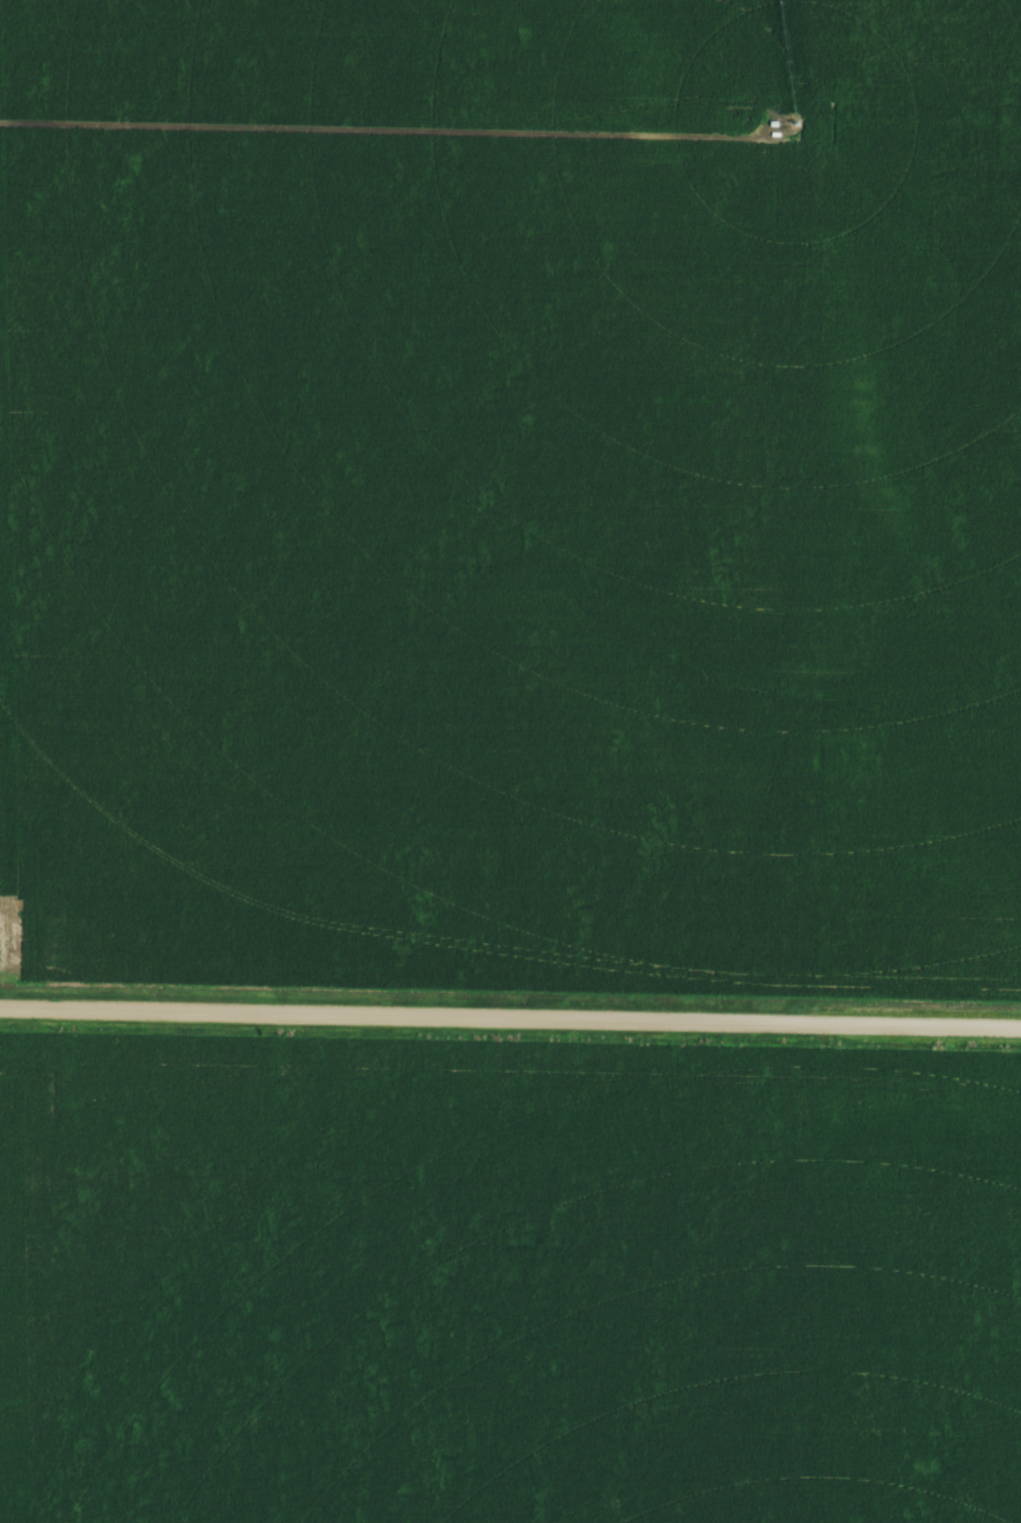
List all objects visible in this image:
road: (510, 1025)

